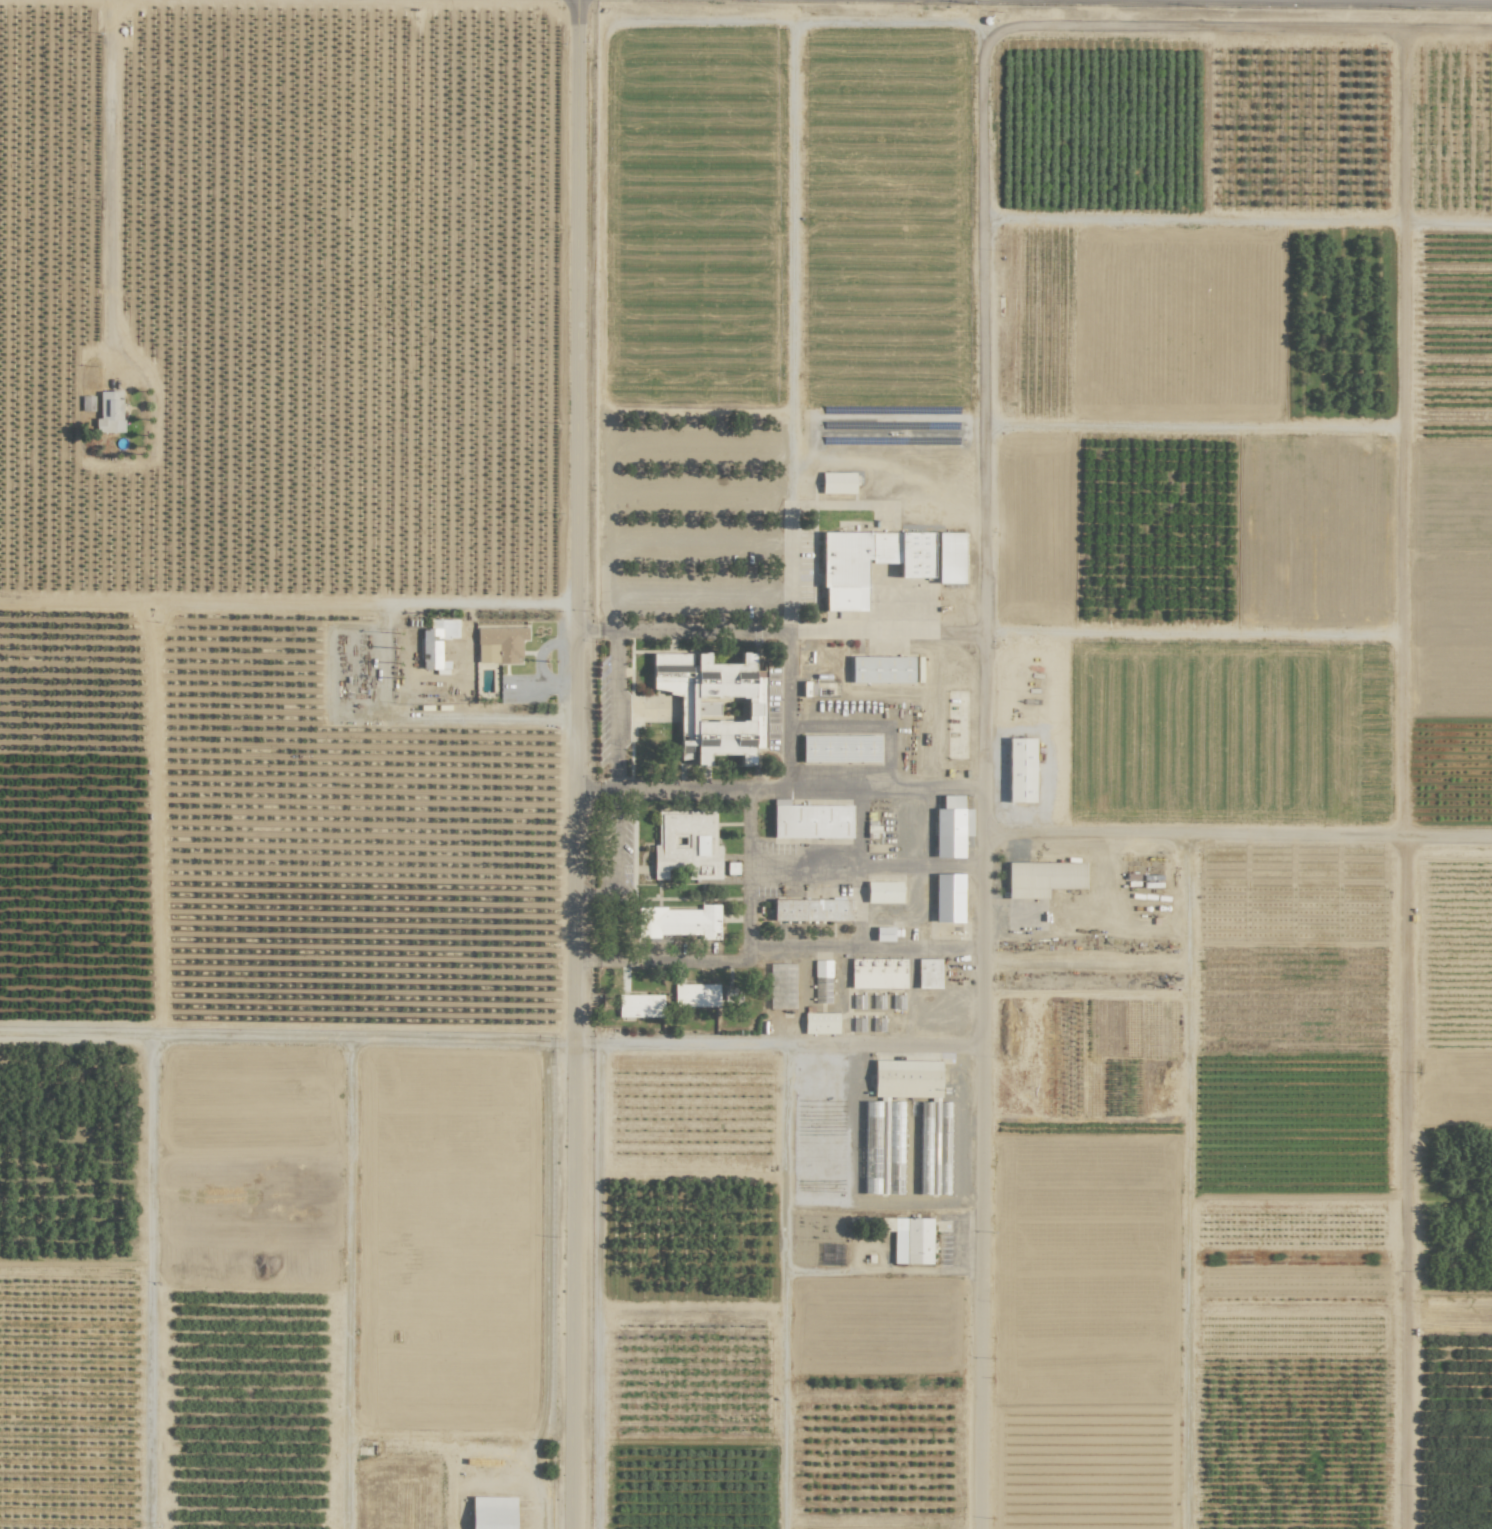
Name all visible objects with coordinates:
road: (790, 30)
road: (106, 182)
building: (109, 412)
building: (837, 483)
building: (949, 557)
building: (844, 569)
building: (434, 644)
building: (499, 644)
building: (881, 669)
road: (787, 710)
road: (447, 716)
building: (840, 749)
road: (574, 764)
building: (1020, 769)
road: (885, 787)
building: (679, 815)
building: (810, 821)
building: (951, 826)
road: (1136, 834)
road: (1401, 876)
building: (1042, 878)
road: (594, 892)
building: (883, 892)
road: (613, 894)
building: (948, 898)
building: (811, 910)
building: (883, 933)
building: (877, 973)
building: (928, 973)
building: (822, 981)
building: (781, 986)
building: (820, 1023)
road: (777, 1044)
building: (906, 1078)
building: (882, 1147)
road: (980, 1179)
building: (909, 1239)
road: (783, 1286)
building: (492, 1512)

